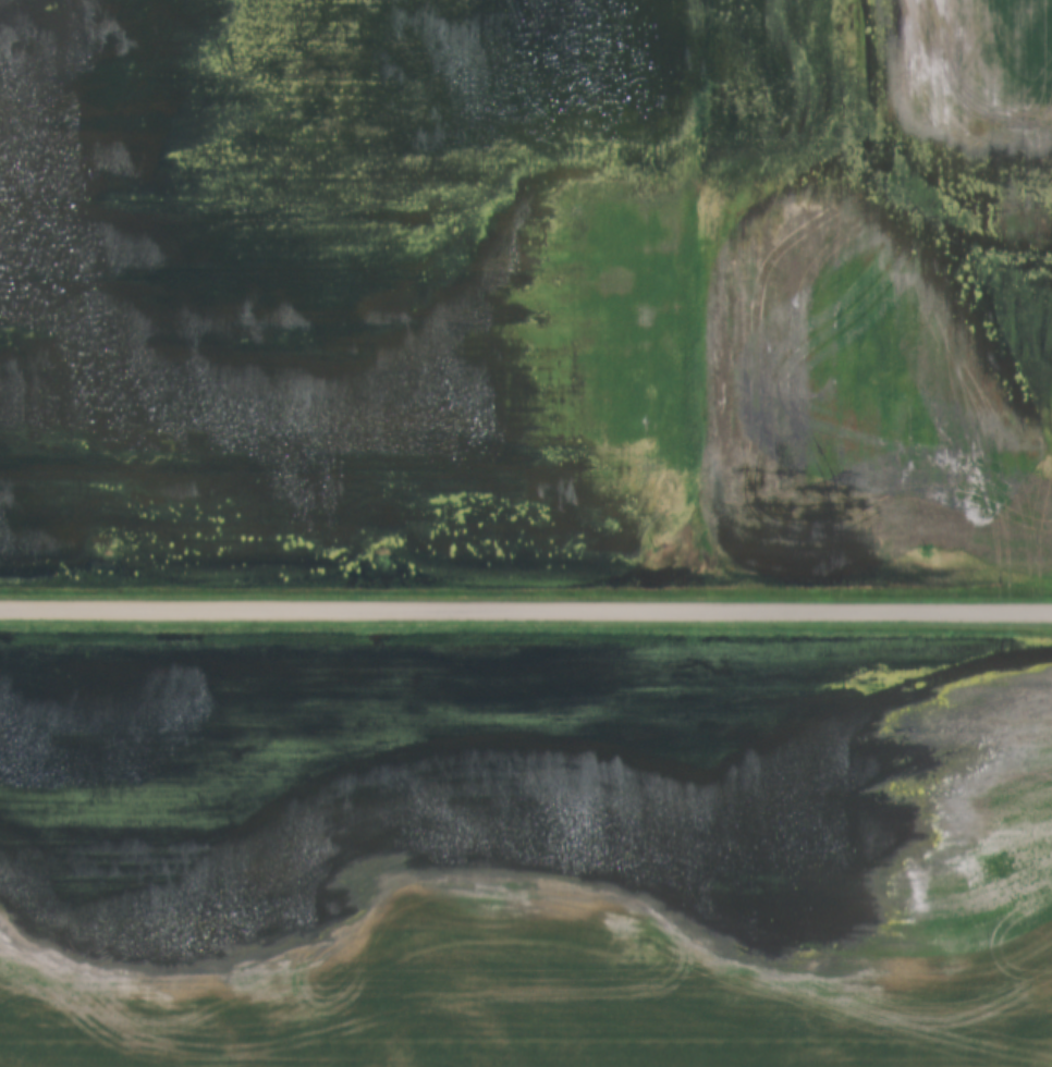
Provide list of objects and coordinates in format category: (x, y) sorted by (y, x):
road: (526, 613)

